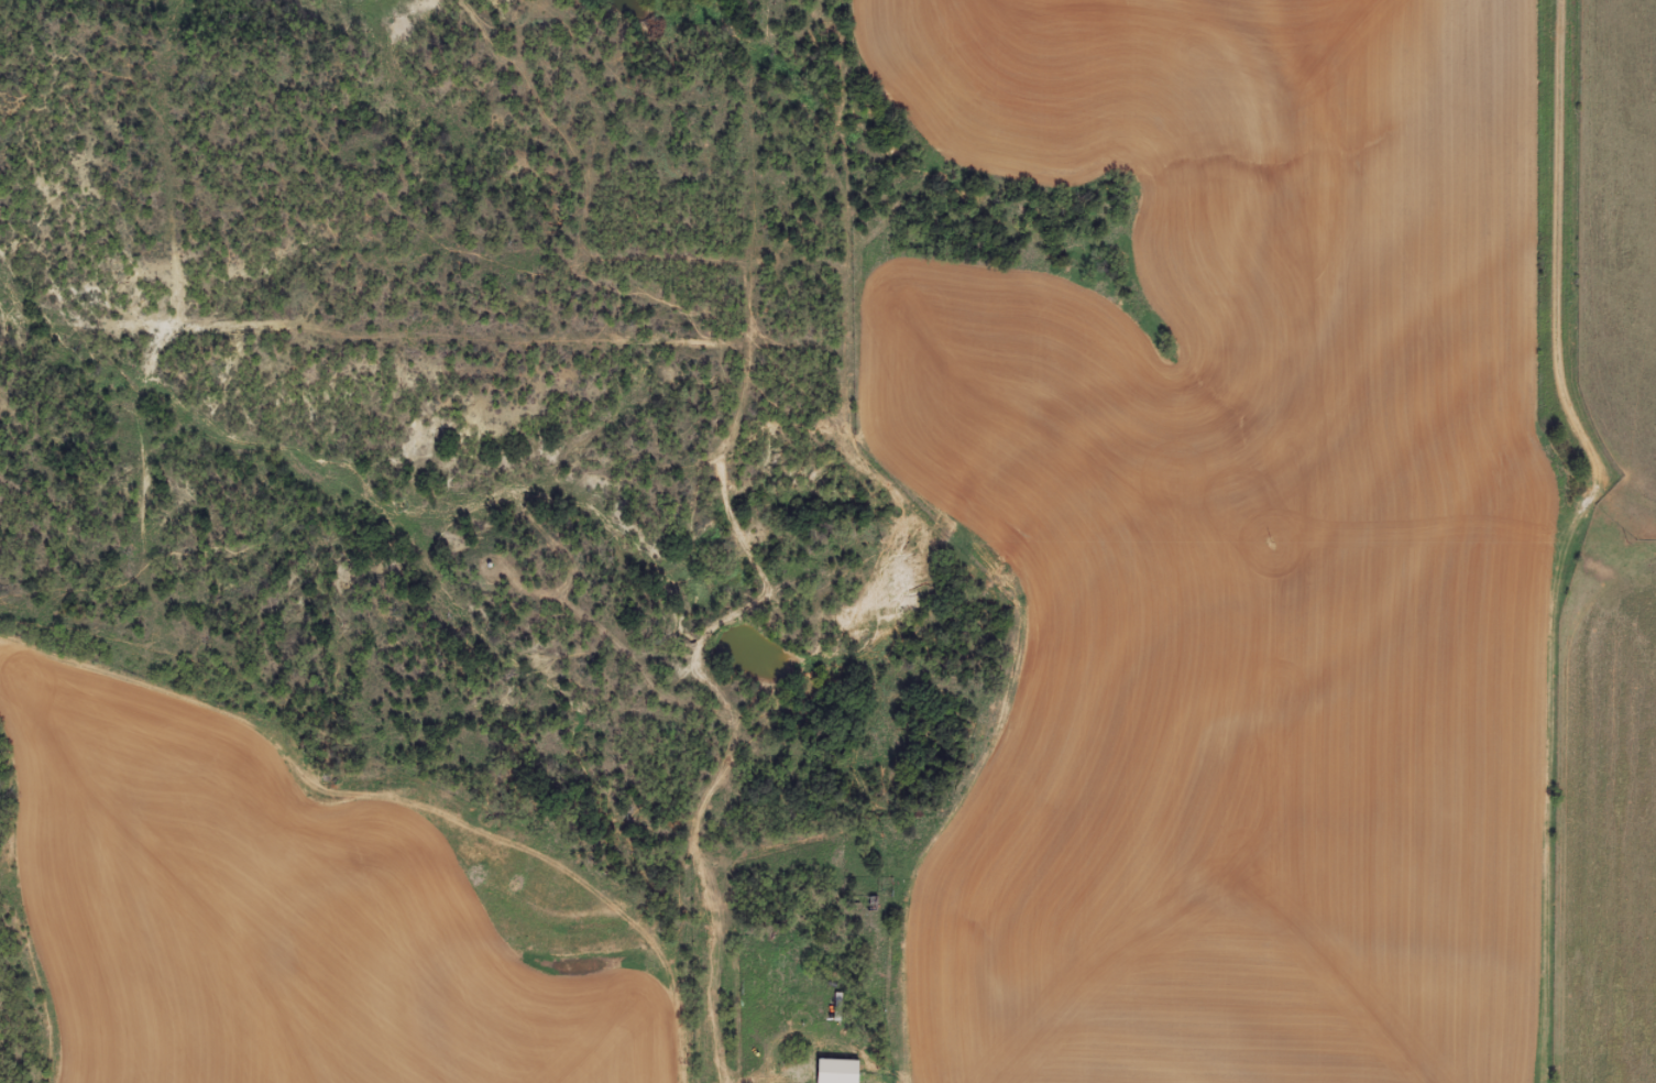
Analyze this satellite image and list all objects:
road: (1558, 240)
road: (1549, 775)
road: (833, 1049)

